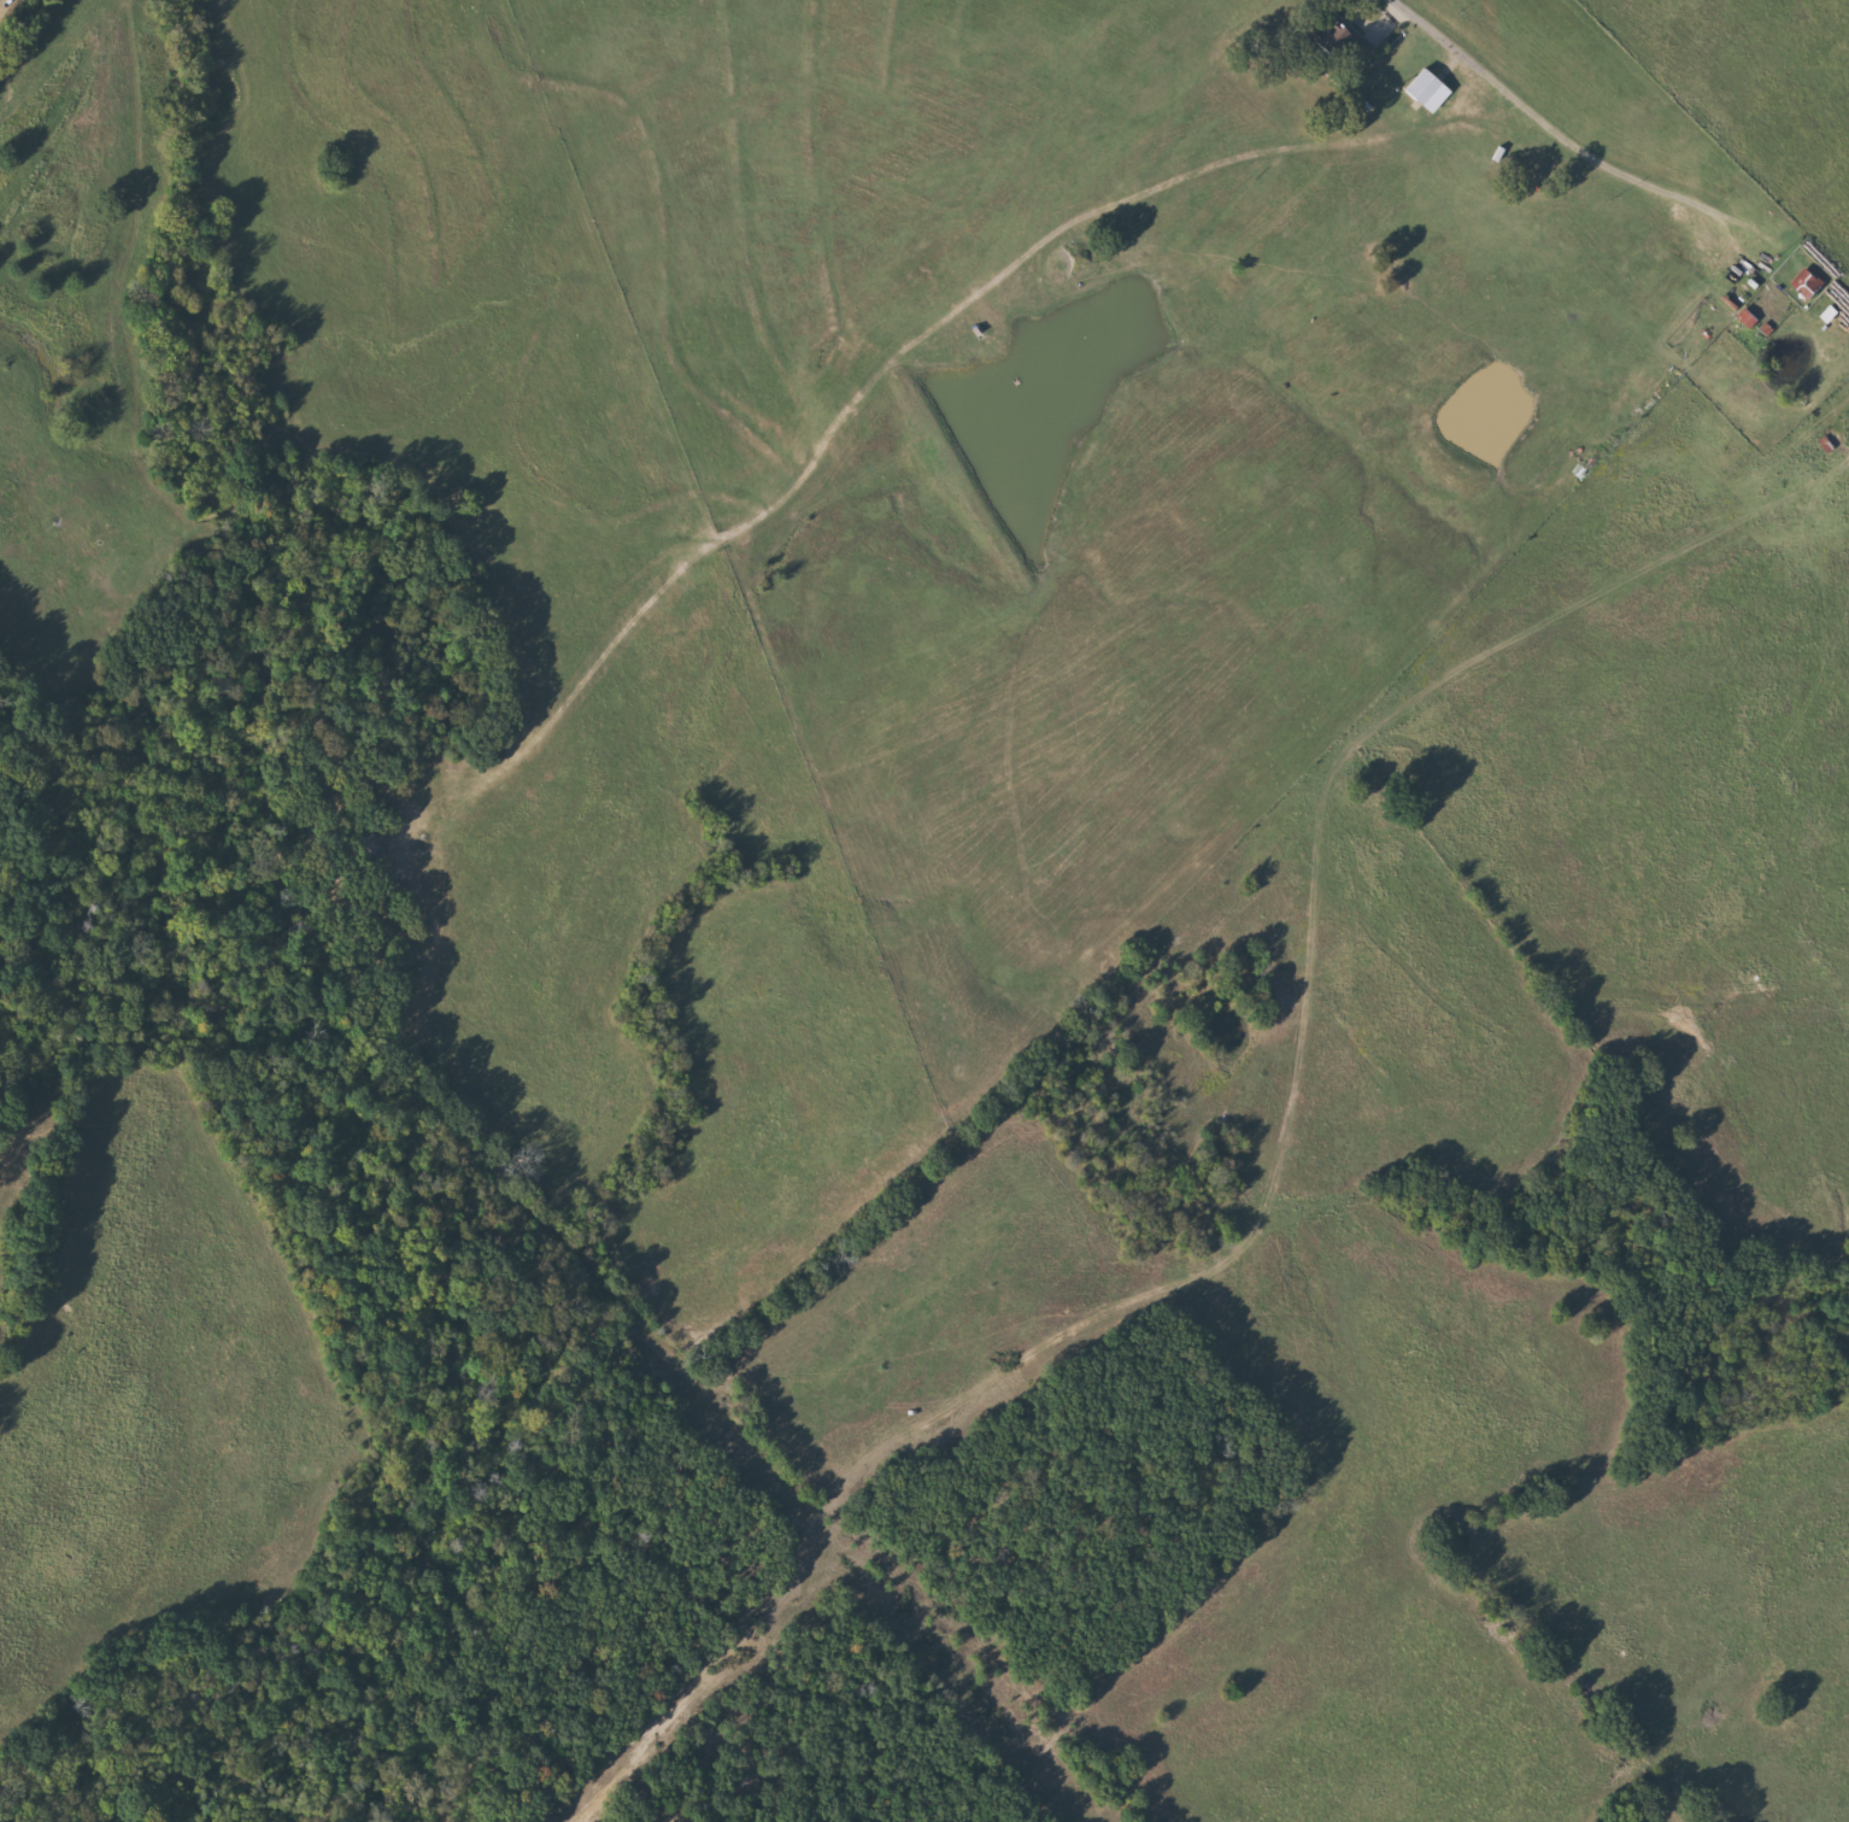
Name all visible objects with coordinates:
building: (1432, 89)
road: (1554, 111)
building: (1812, 282)
building: (1750, 316)

